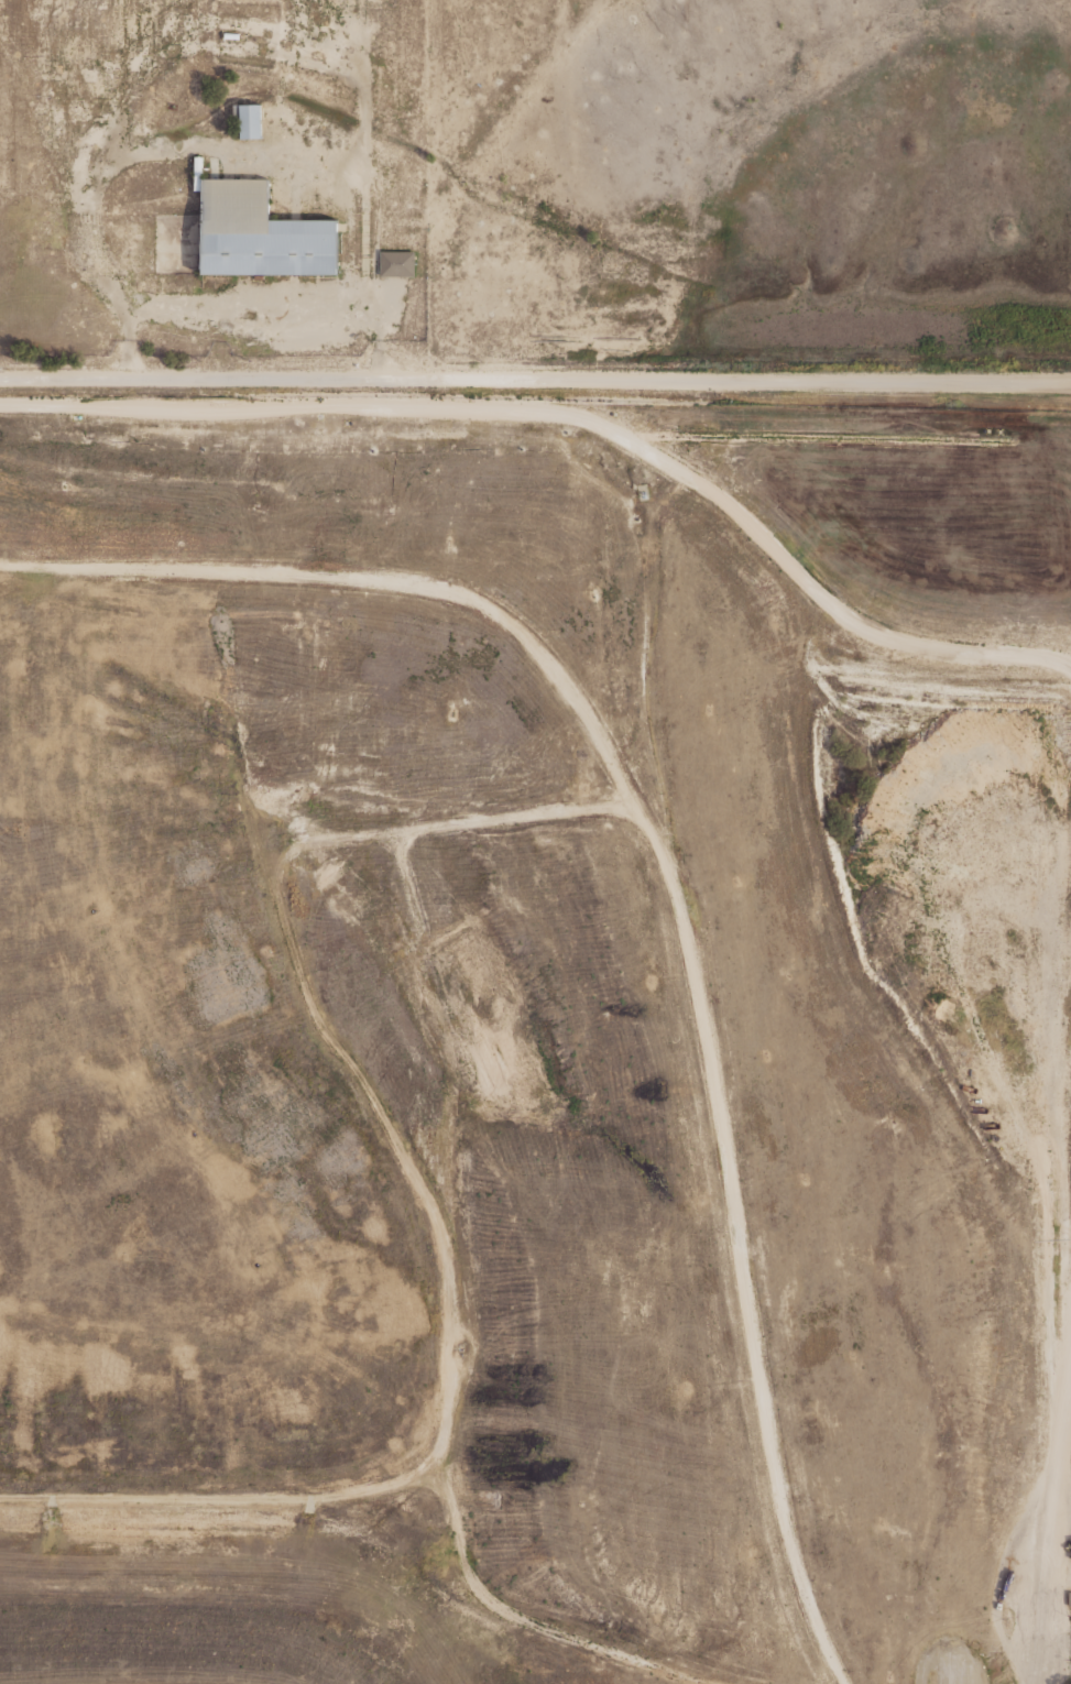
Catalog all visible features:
building: (94, 24)
building: (230, 34)
road: (240, 48)
building: (250, 119)
road: (240, 152)
building: (198, 173)
building: (261, 232)
building: (396, 262)
building: (417, 271)
road: (535, 380)
road: (428, 408)
road: (927, 648)
road: (278, 864)
landfill: (534, 1046)
road: (736, 1237)
road: (1048, 1505)
road: (532, 1622)

